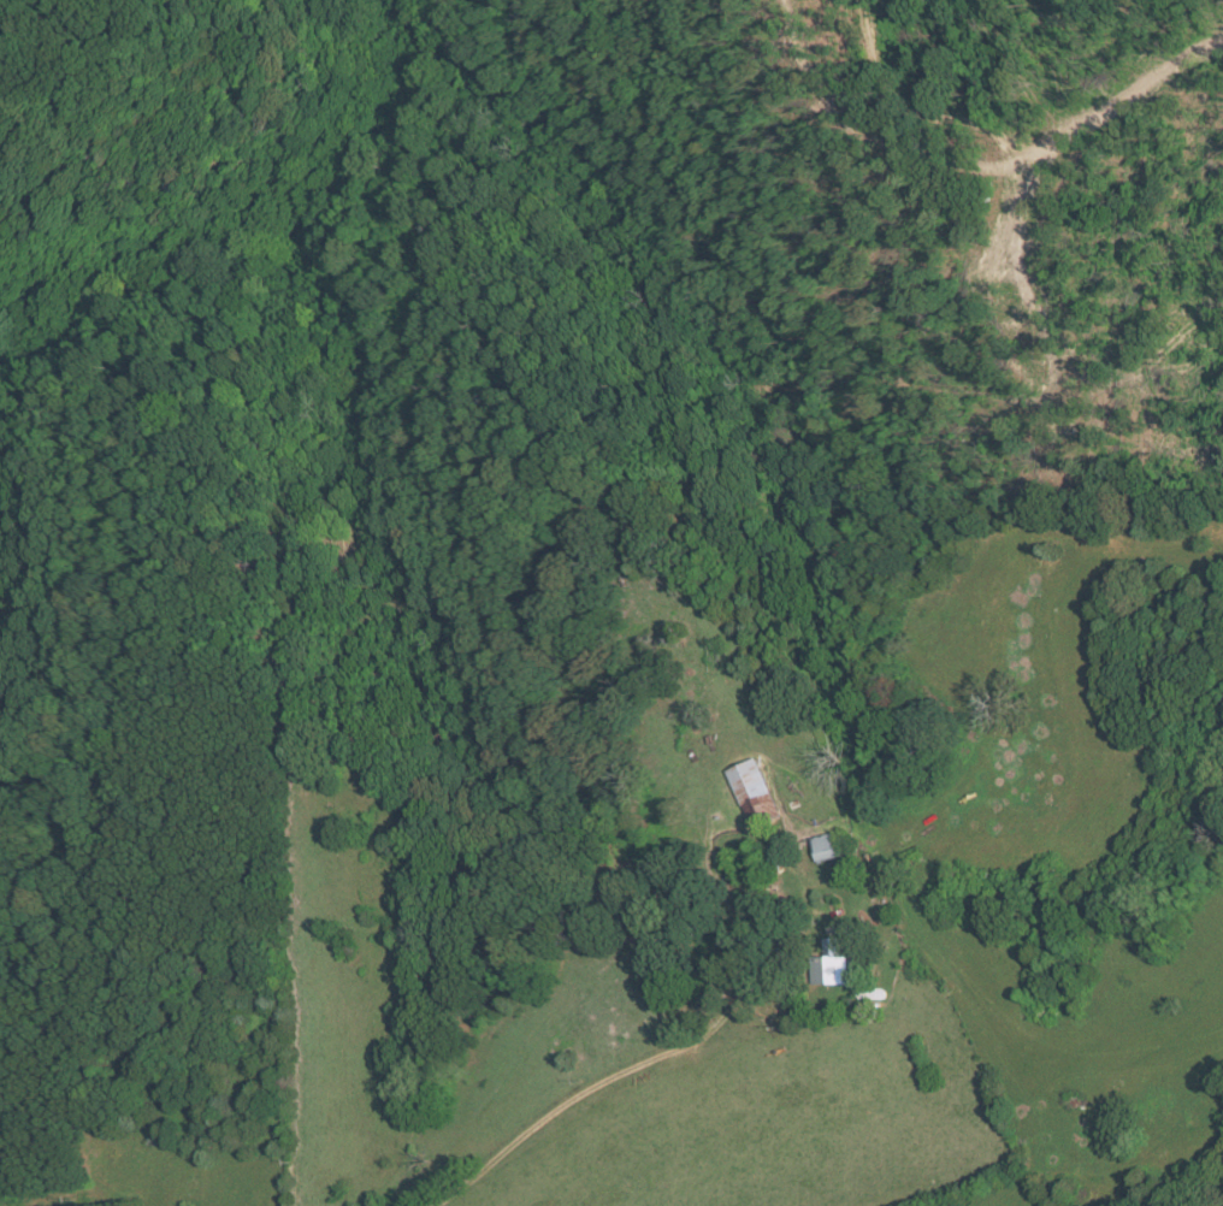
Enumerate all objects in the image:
building: (754, 791)
building: (828, 846)
building: (833, 964)
road: (657, 1058)

